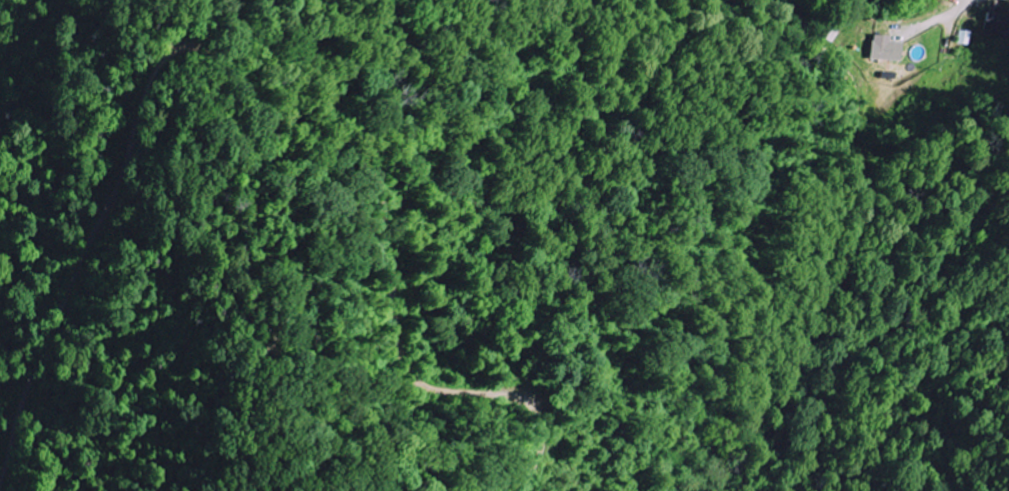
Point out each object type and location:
road: (963, 14)
building: (969, 37)
building: (885, 48)
road: (269, 135)

